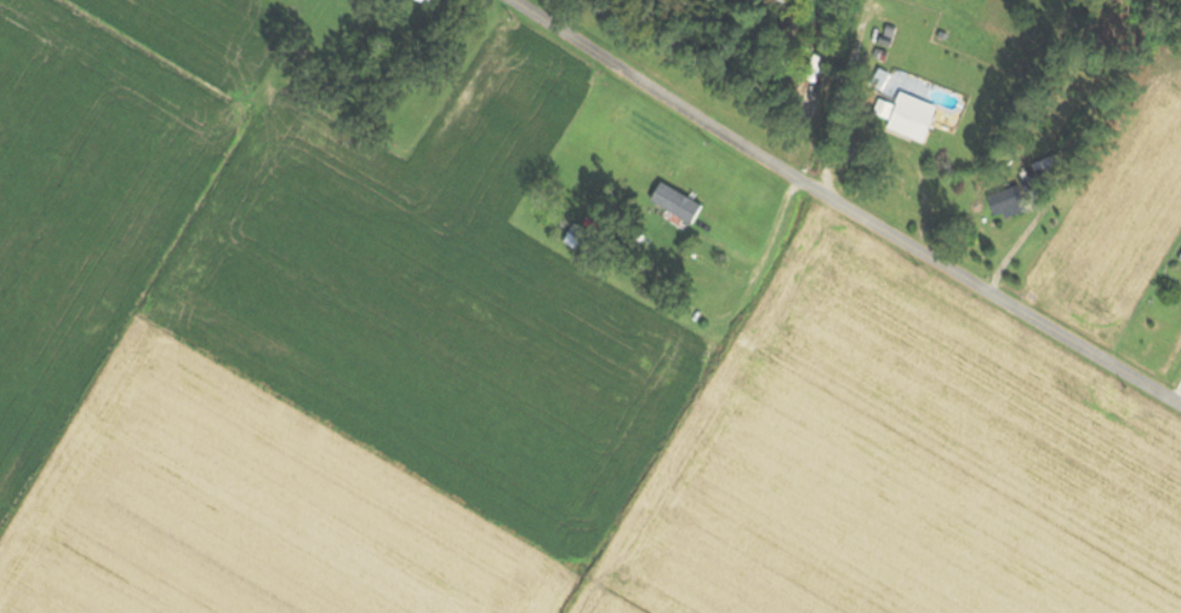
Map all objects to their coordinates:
building: (428, 0)
road: (838, 93)
building: (911, 116)
building: (1016, 199)
road: (843, 202)
building: (580, 239)
building: (655, 256)

